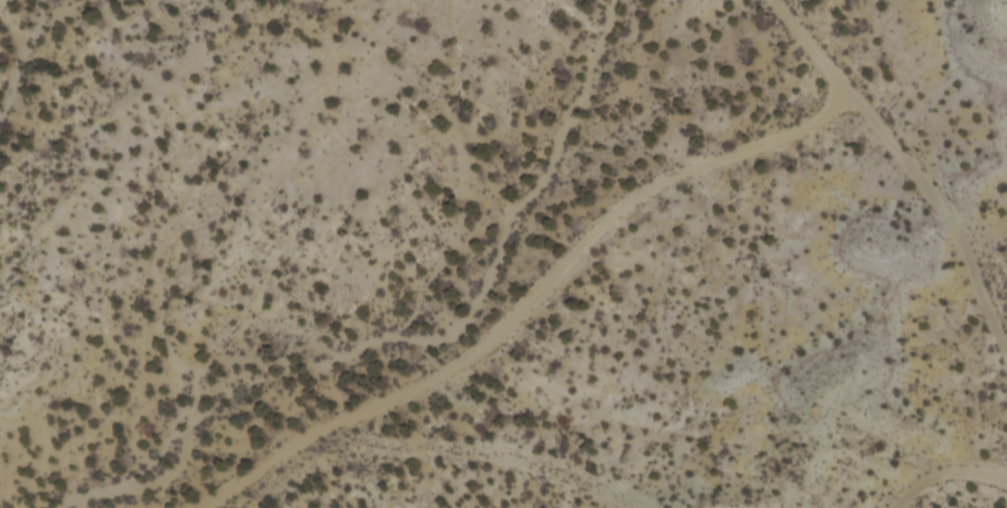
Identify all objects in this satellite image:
road: (869, 248)

